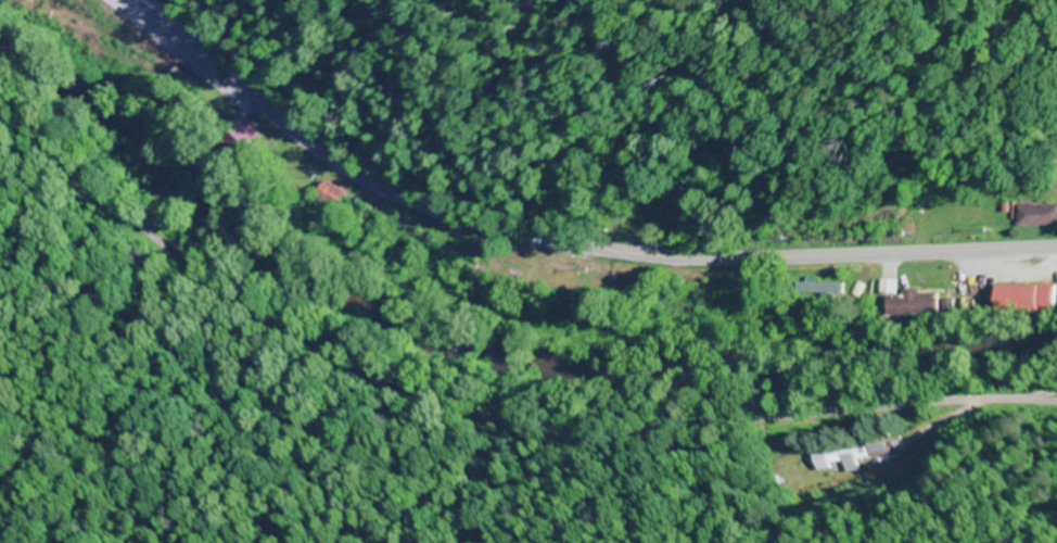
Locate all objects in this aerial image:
building: (331, 197)
building: (1037, 215)
building: (712, 220)
road: (563, 245)
building: (819, 289)
building: (1027, 299)
building: (907, 302)
road: (481, 409)
building: (848, 456)

